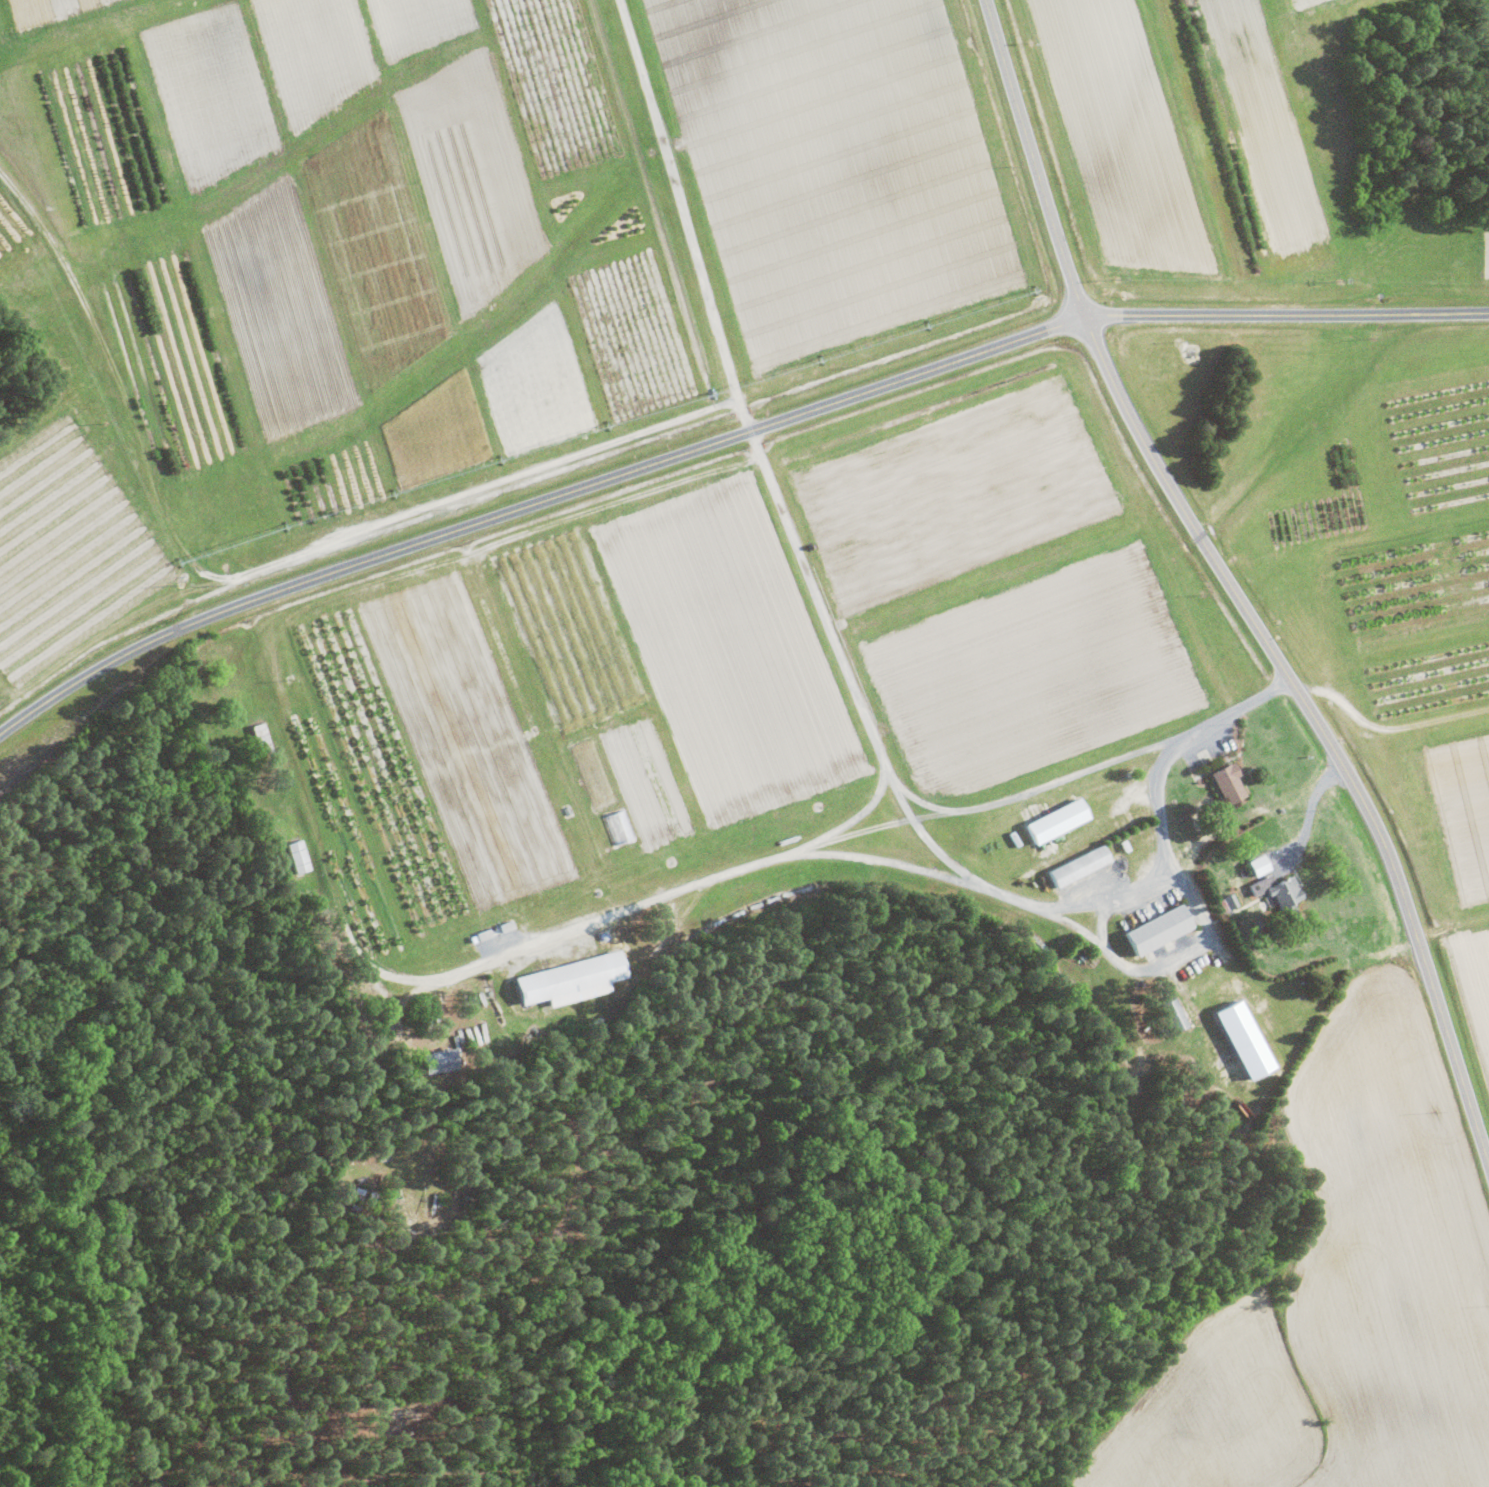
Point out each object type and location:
road: (1286, 315)
road: (531, 506)
road: (1229, 587)
building: (1231, 782)
building: (1061, 820)
building: (300, 856)
building: (1262, 864)
building: (1083, 865)
building: (1281, 890)
building: (1233, 901)
building: (1161, 929)
building: (575, 979)
building: (1248, 1039)
building: (444, 1060)

